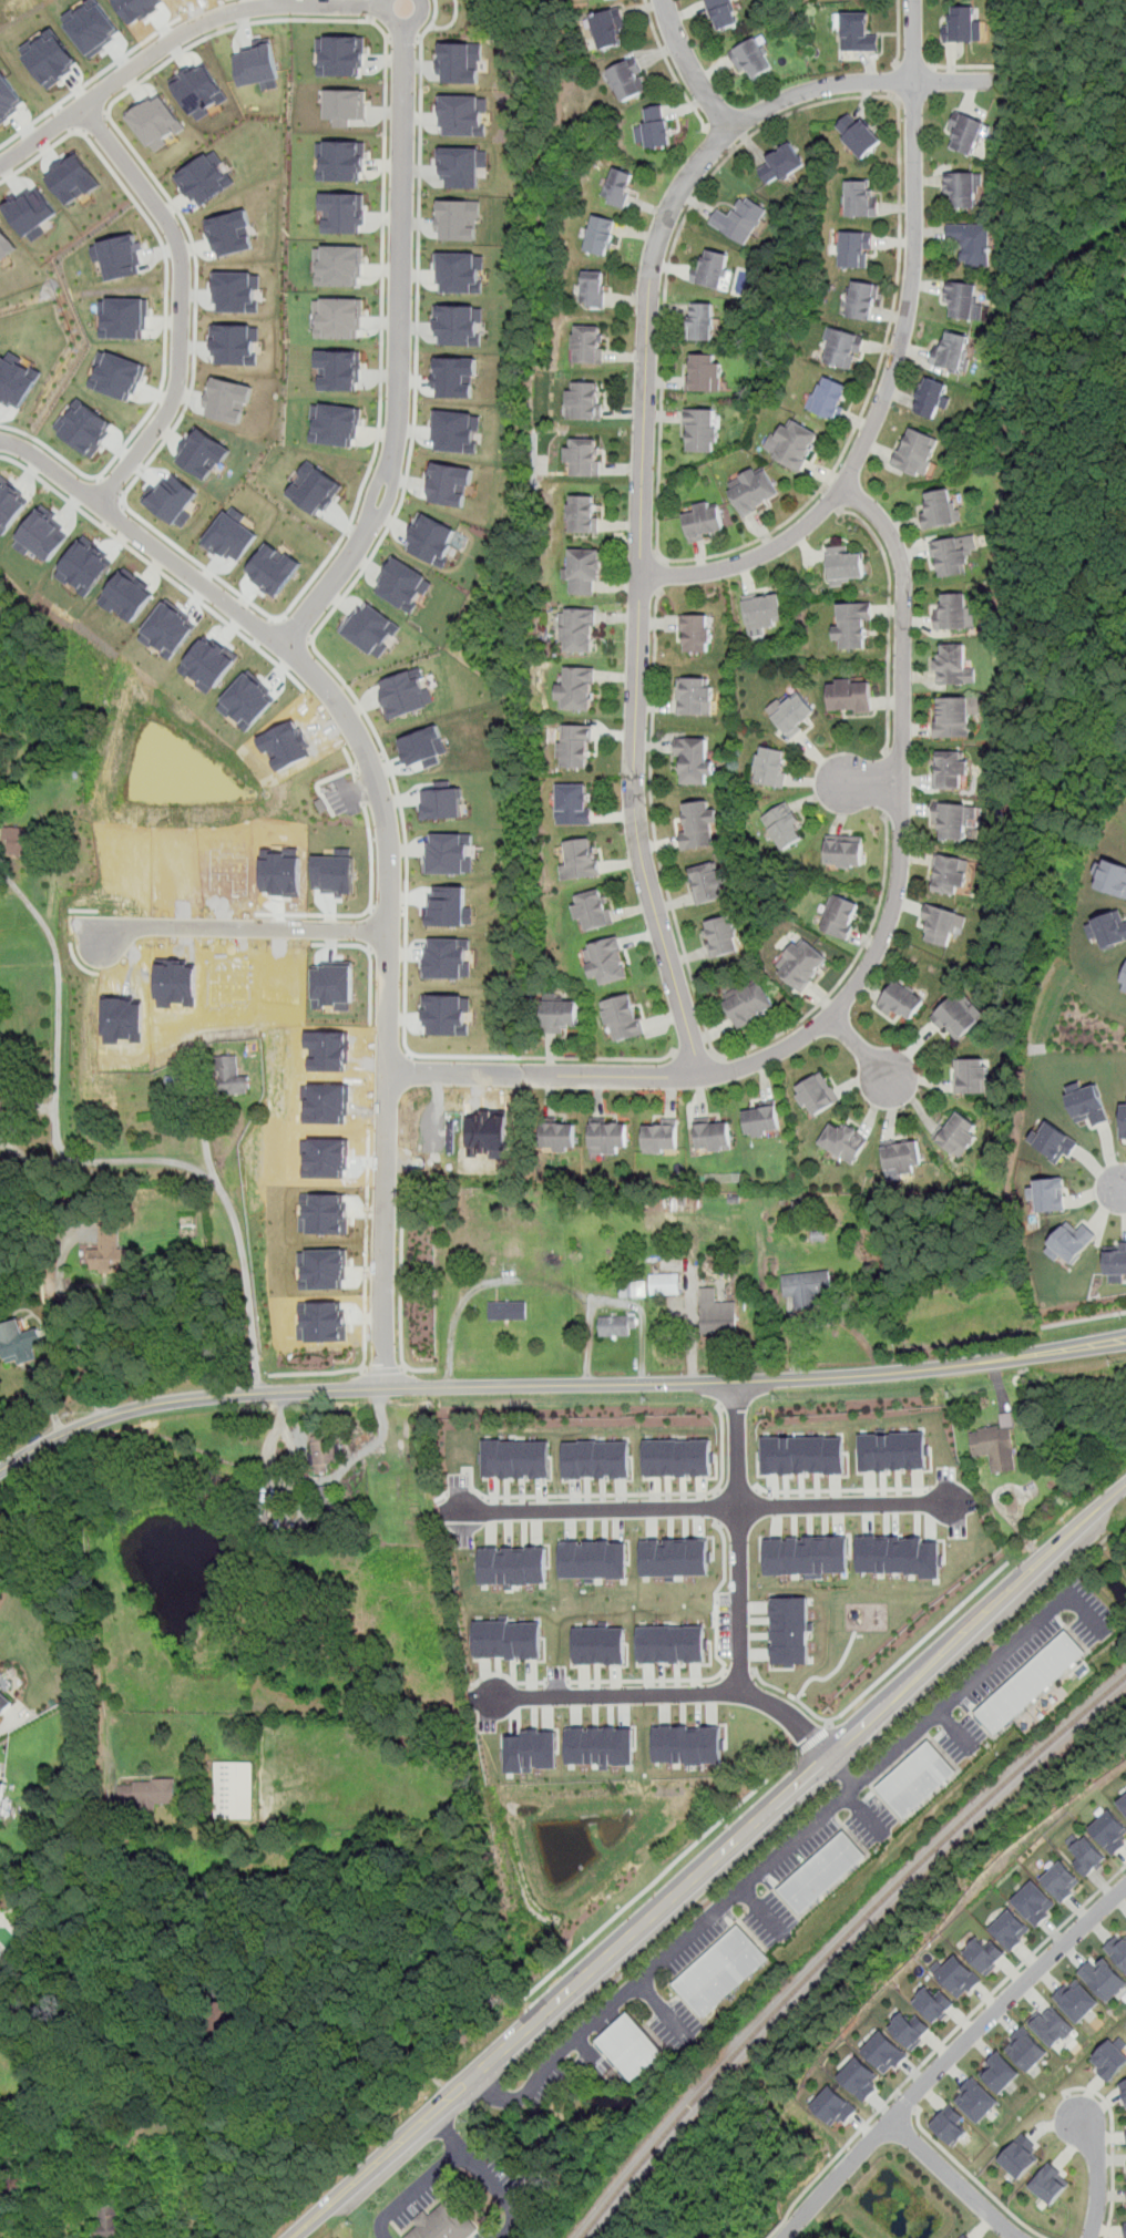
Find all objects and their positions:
building: (723, 13)
park: (451, 20)
road: (452, 22)
building: (960, 23)
building: (608, 29)
road: (183, 31)
building: (857, 31)
road: (157, 32)
road: (899, 33)
road: (403, 38)
building: (340, 55)
building: (51, 57)
building: (751, 59)
building: (460, 62)
building: (257, 65)
road: (915, 65)
road: (961, 66)
road: (669, 68)
road: (689, 68)
building: (627, 81)
road: (895, 82)
building: (198, 90)
road: (887, 95)
building: (9, 96)
building: (346, 105)
road: (49, 111)
building: (461, 114)
road: (65, 117)
road: (94, 122)
building: (155, 122)
road: (385, 123)
building: (653, 130)
building: (966, 131)
building: (858, 133)
road: (719, 138)
building: (341, 160)
building: (780, 165)
building: (461, 166)
building: (72, 178)
building: (204, 178)
building: (962, 187)
building: (618, 188)
building: (860, 198)
building: (31, 212)
building: (344, 212)
building: (457, 219)
building: (739, 219)
building: (228, 233)
building: (600, 236)
building: (972, 243)
building: (6, 244)
building: (857, 248)
building: (119, 256)
building: (340, 265)
building: (713, 268)
building: (459, 271)
building: (236, 290)
building: (593, 290)
road: (165, 292)
building: (962, 298)
building: (862, 300)
road: (181, 301)
building: (339, 317)
building: (123, 318)
building: (702, 320)
building: (458, 325)
road: (399, 338)
building: (235, 343)
building: (586, 343)
building: (841, 348)
building: (952, 351)
road: (895, 362)
building: (340, 369)
building: (704, 373)
building: (116, 374)
building: (453, 377)
building: (16, 381)
building: (931, 397)
building: (830, 398)
building: (227, 399)
building: (582, 400)
building: (335, 424)
building: (84, 425)
road: (16, 429)
building: (455, 430)
building: (703, 430)
building: (792, 443)
building: (203, 452)
building: (915, 452)
building: (581, 456)
road: (643, 458)
road: (408, 461)
building: (450, 483)
road: (111, 486)
building: (315, 489)
building: (753, 491)
building: (174, 499)
road: (830, 499)
building: (9, 503)
building: (939, 509)
building: (583, 513)
road: (115, 515)
road: (92, 517)
building: (704, 521)
building: (43, 535)
building: (232, 535)
building: (431, 538)
building: (951, 555)
building: (843, 565)
building: (86, 566)
building: (273, 568)
building: (584, 569)
road: (661, 575)
building: (402, 584)
building: (130, 594)
building: (953, 612)
building: (764, 613)
road: (889, 620)
building: (856, 624)
road: (297, 628)
building: (371, 629)
building: (577, 629)
road: (266, 632)
building: (696, 633)
building: (954, 666)
building: (576, 687)
building: (405, 694)
building: (696, 696)
building: (854, 696)
building: (795, 714)
building: (954, 715)
building: (423, 746)
building: (575, 748)
road: (369, 759)
building: (696, 759)
building: (771, 767)
building: (950, 770)
road: (339, 773)
road: (886, 782)
road: (867, 783)
road: (358, 786)
parking lot: (342, 798)
building: (441, 803)
building: (574, 804)
building: (951, 822)
road: (387, 824)
building: (700, 824)
road: (653, 825)
building: (785, 828)
building: (19, 840)
building: (843, 852)
building: (449, 853)
building: (580, 860)
building: (948, 872)
building: (1113, 876)
building: (708, 882)
building: (449, 906)
road: (388, 910)
building: (592, 911)
road: (275, 914)
building: (839, 916)
building: (943, 924)
road: (242, 927)
building: (1109, 928)
building: (721, 935)
building: (606, 961)
building: (801, 964)
road: (848, 969)
road: (866, 973)
road: (370, 978)
building: (1125, 978)
building: (1124, 986)
building: (902, 1002)
building: (748, 1004)
building: (446, 1012)
building: (562, 1015)
building: (623, 1017)
building: (956, 1020)
road: (862, 1050)
road: (694, 1055)
road: (454, 1056)
building: (234, 1076)
building: (971, 1076)
building: (1, 1087)
building: (816, 1095)
building: (1088, 1103)
building: (1123, 1119)
building: (761, 1120)
building: (713, 1133)
building: (608, 1135)
building: (661, 1135)
building: (958, 1135)
building: (557, 1136)
building: (843, 1140)
building: (1054, 1141)
building: (902, 1156)
road: (98, 1160)
road: (1120, 1190)
building: (1051, 1194)
building: (1072, 1242)
building: (105, 1251)
building: (1116, 1259)
building: (665, 1284)
building: (806, 1287)
building: (633, 1289)
road: (400, 1292)
building: (508, 1310)
building: (716, 1312)
road: (1084, 1320)
building: (617, 1324)
building: (20, 1343)
road: (85, 1363)
road: (361, 1368)
road: (402, 1368)
road: (382, 1370)
road: (336, 1372)
road: (556, 1384)
building: (995, 1445)
building: (894, 1450)
building: (325, 1452)
building: (803, 1454)
building: (678, 1457)
building: (516, 1458)
building: (597, 1458)
road: (841, 1489)
road: (737, 1490)
road: (623, 1493)
building: (328, 1498)
road: (705, 1507)
road: (719, 1507)
road: (738, 1536)
building: (807, 1554)
building: (899, 1556)
building: (675, 1557)
building: (594, 1559)
building: (513, 1563)
building: (790, 1630)
building: (508, 1639)
road: (919, 1642)
building: (601, 1644)
building: (672, 1644)
road: (983, 1649)
road: (721, 1669)
road: (723, 1672)
road: (738, 1672)
road: (831, 1673)
road: (530, 1682)
road: (557, 1682)
building: (1030, 1683)
road: (669, 1693)
road: (792, 1696)
building: (6, 1700)
road: (11, 1722)
road: (955, 1731)
road: (811, 1741)
building: (687, 1743)
building: (601, 1744)
building: (532, 1751)
road: (842, 1768)
road: (846, 1773)
road: (798, 1779)
building: (917, 1780)
building: (234, 1789)
building: (146, 1792)
building: (1, 1798)
building: (1123, 1801)
road: (866, 1816)
road: (815, 1824)
building: (1109, 1830)
building: (1086, 1854)
building: (822, 1872)
road: (0, 1875)
road: (659, 1876)
building: (1061, 1883)
building: (1, 1902)
building: (1033, 1902)
road: (764, 1911)
road: (672, 1929)
building: (1009, 1929)
railway: (839, 1942)
building: (1117, 1951)
building: (984, 1952)
building: (720, 1971)
building: (956, 1975)
building: (1103, 1978)
building: (1075, 2001)
building: (933, 2004)
road: (663, 2010)
building: (1052, 2025)
building: (909, 2030)
road: (940, 2044)
road: (338, 2045)
building: (628, 2046)
building: (1026, 2049)
building: (884, 2052)
road: (588, 2053)
road: (951, 2057)
building: (1108, 2060)
building: (1000, 2072)
building: (859, 2078)
road: (463, 2084)
building: (1124, 2092)
road: (897, 2094)
road: (497, 2096)
building: (976, 2101)
road: (907, 2103)
building: (832, 2106)
building: (950, 2128)
road: (446, 2129)
road: (1112, 2143)
building: (1017, 2157)
road: (371, 2164)
road: (1097, 2176)
road: (953, 2178)
road: (974, 2178)
building: (1051, 2184)
road: (412, 2189)
road: (499, 2190)
building: (444, 2222)
building: (108, 2224)
building: (964, 2237)

